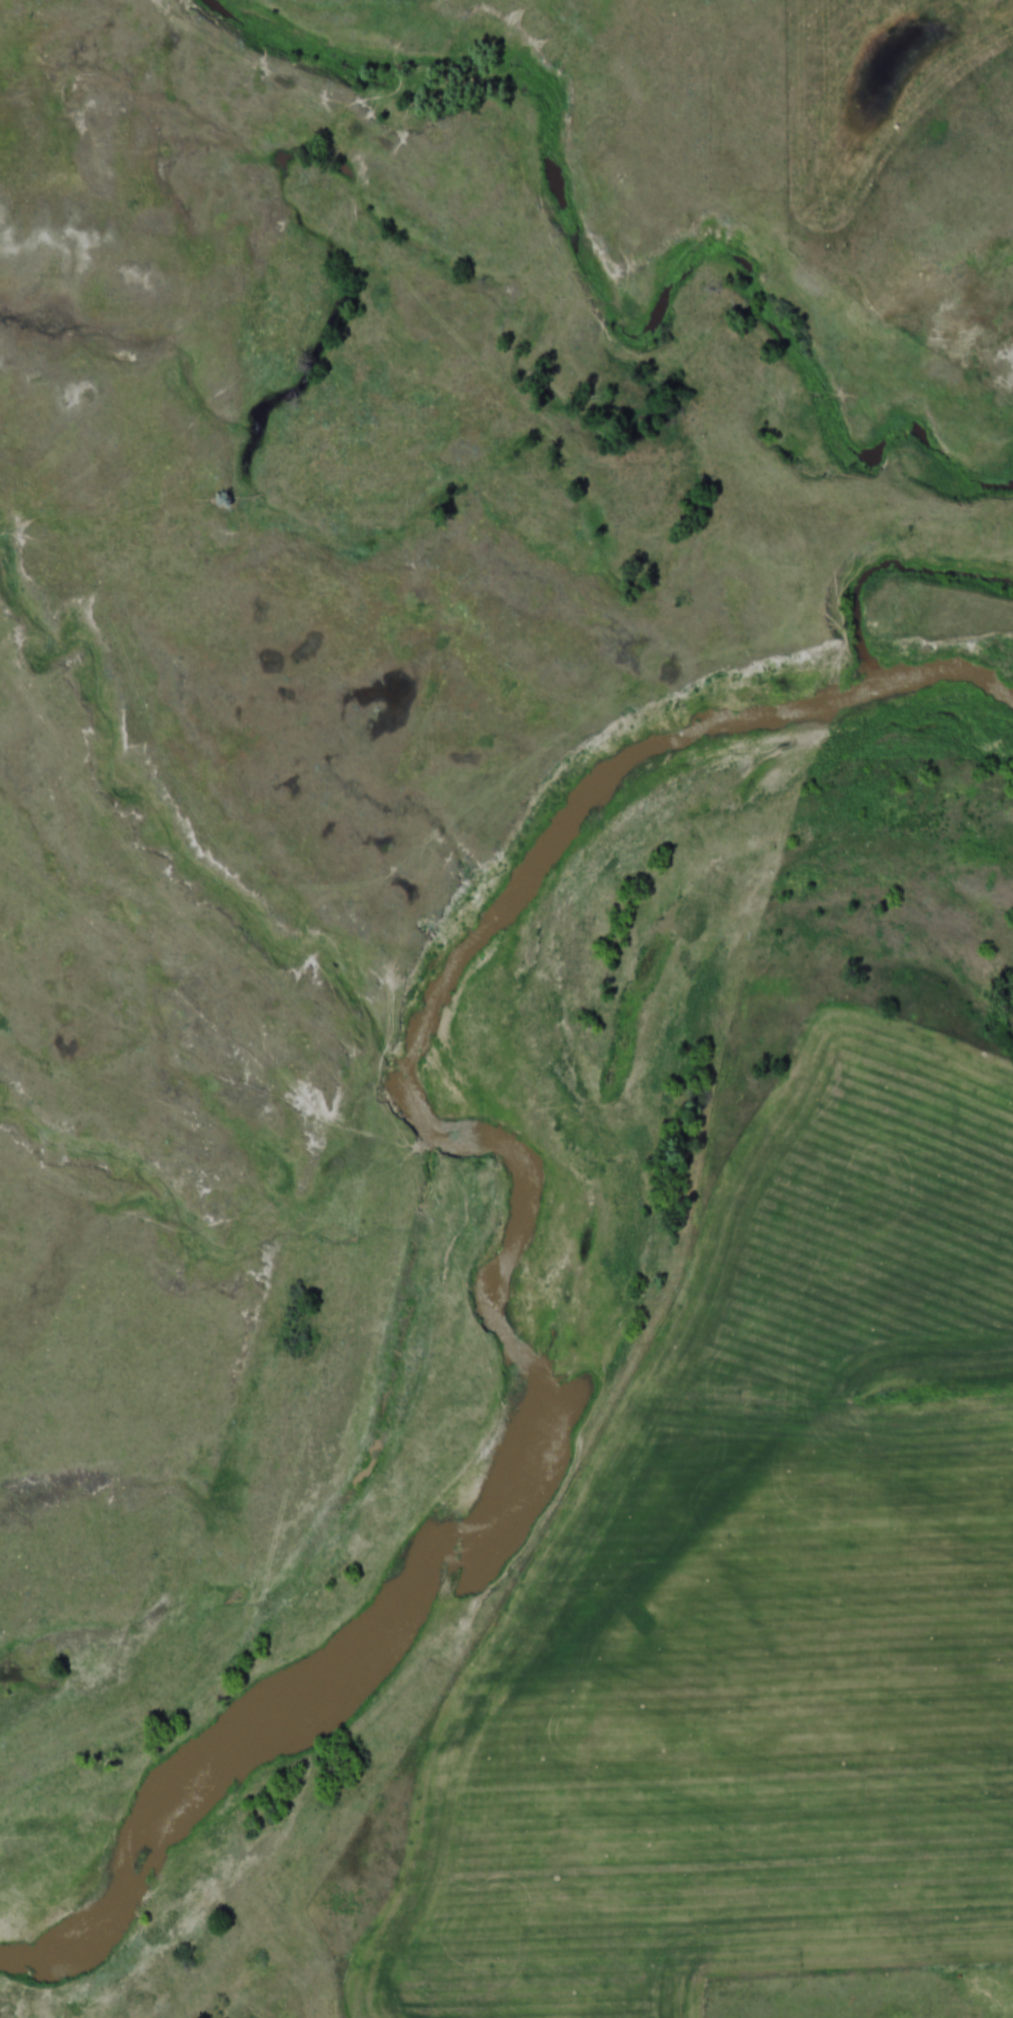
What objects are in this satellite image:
river: (521, 1215)

